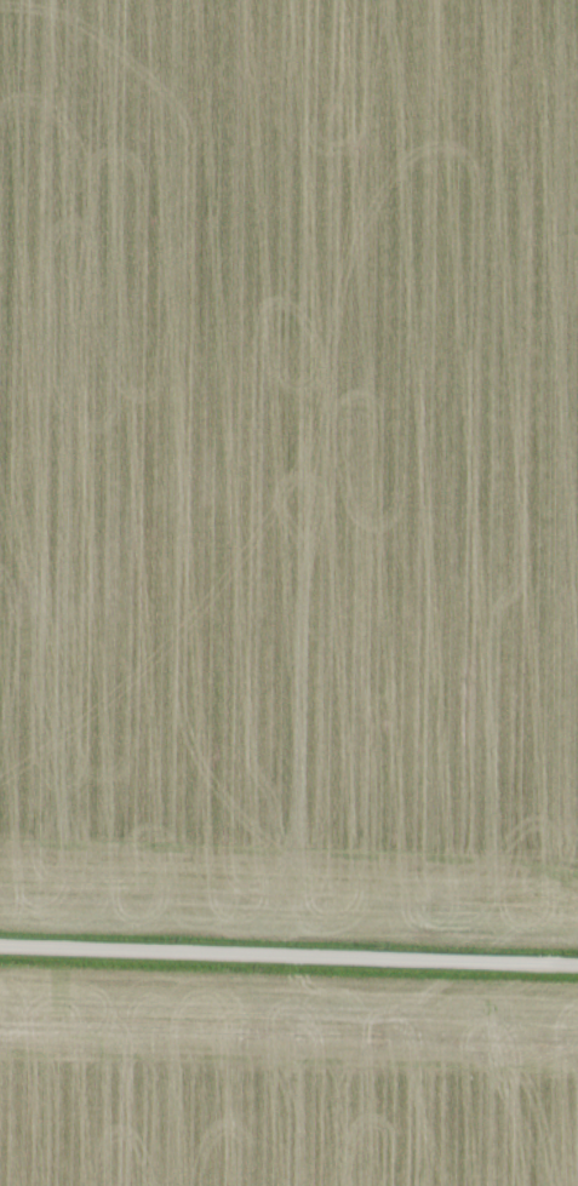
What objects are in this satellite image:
road: (288, 955)

